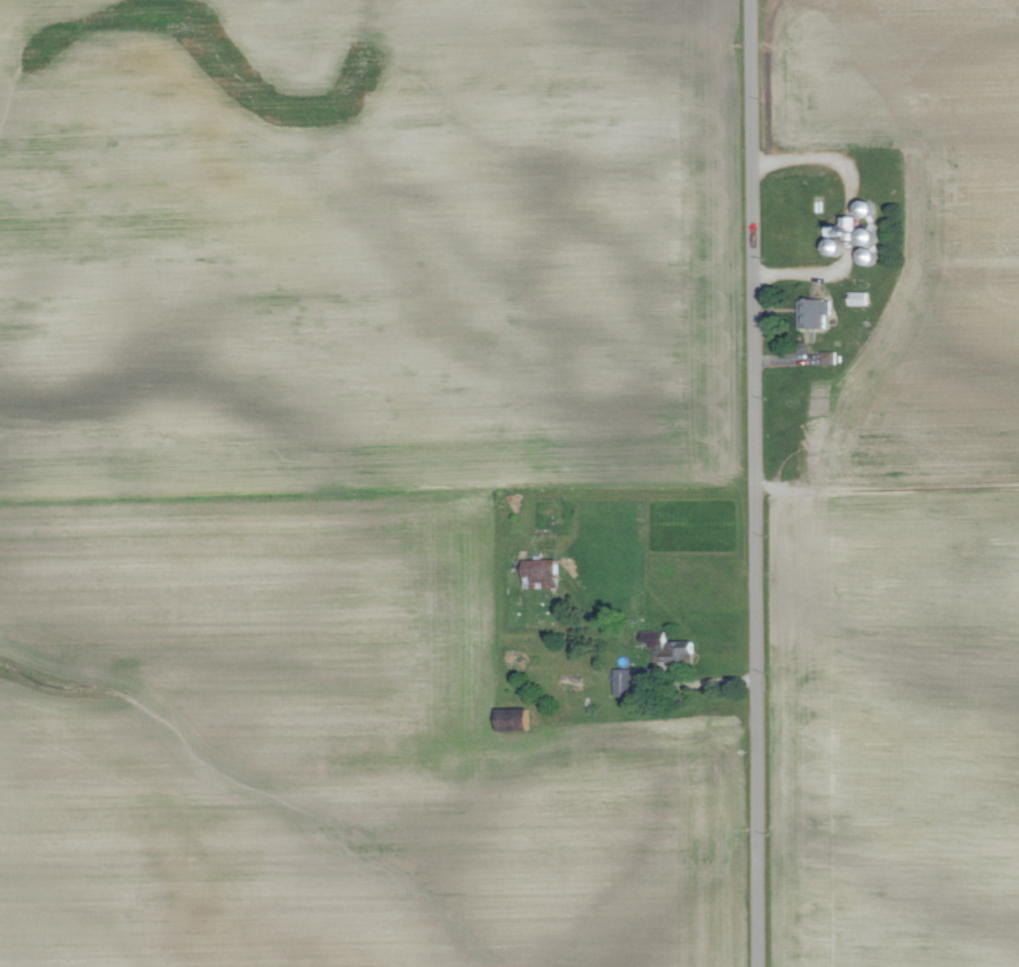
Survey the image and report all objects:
road: (814, 161)
road: (800, 273)
building: (818, 312)
building: (831, 357)
road: (753, 483)
building: (546, 573)
road: (700, 681)
building: (627, 682)

